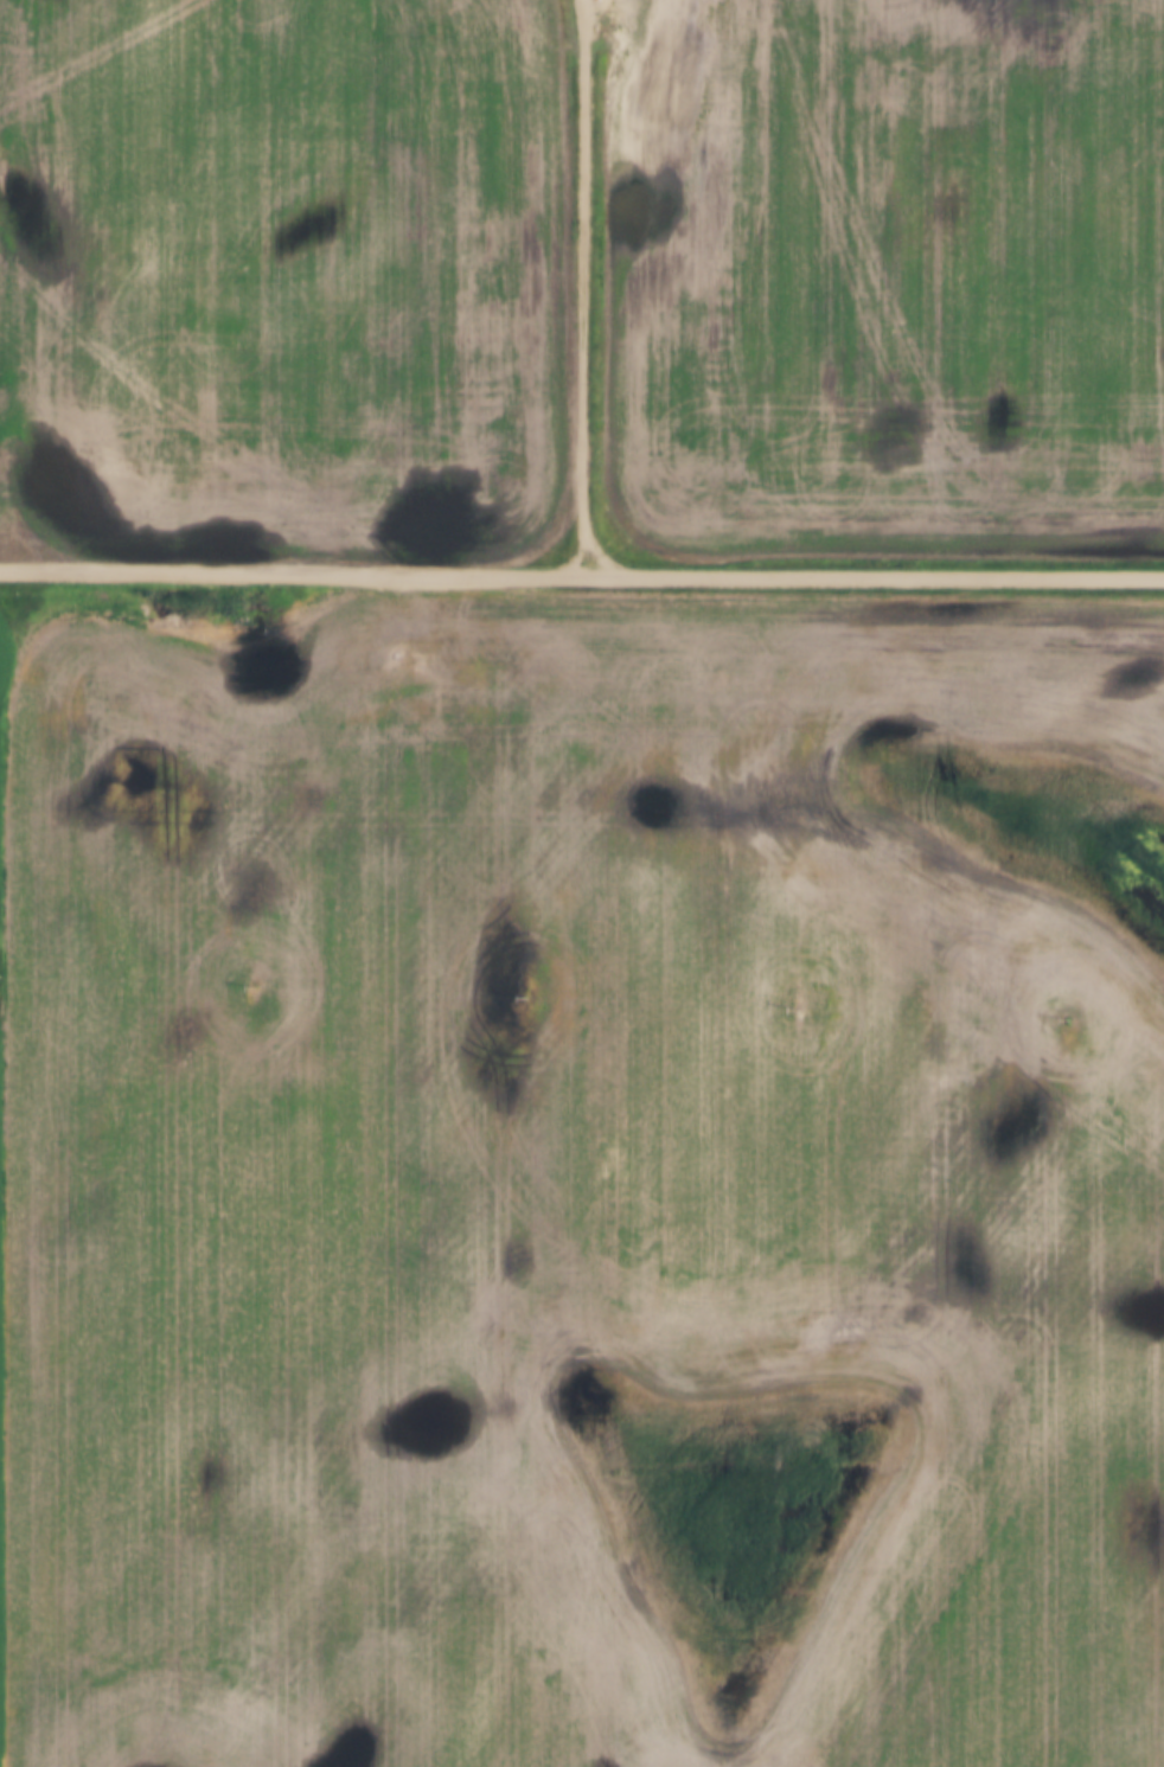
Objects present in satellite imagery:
road: (586, 286)
road: (581, 570)

